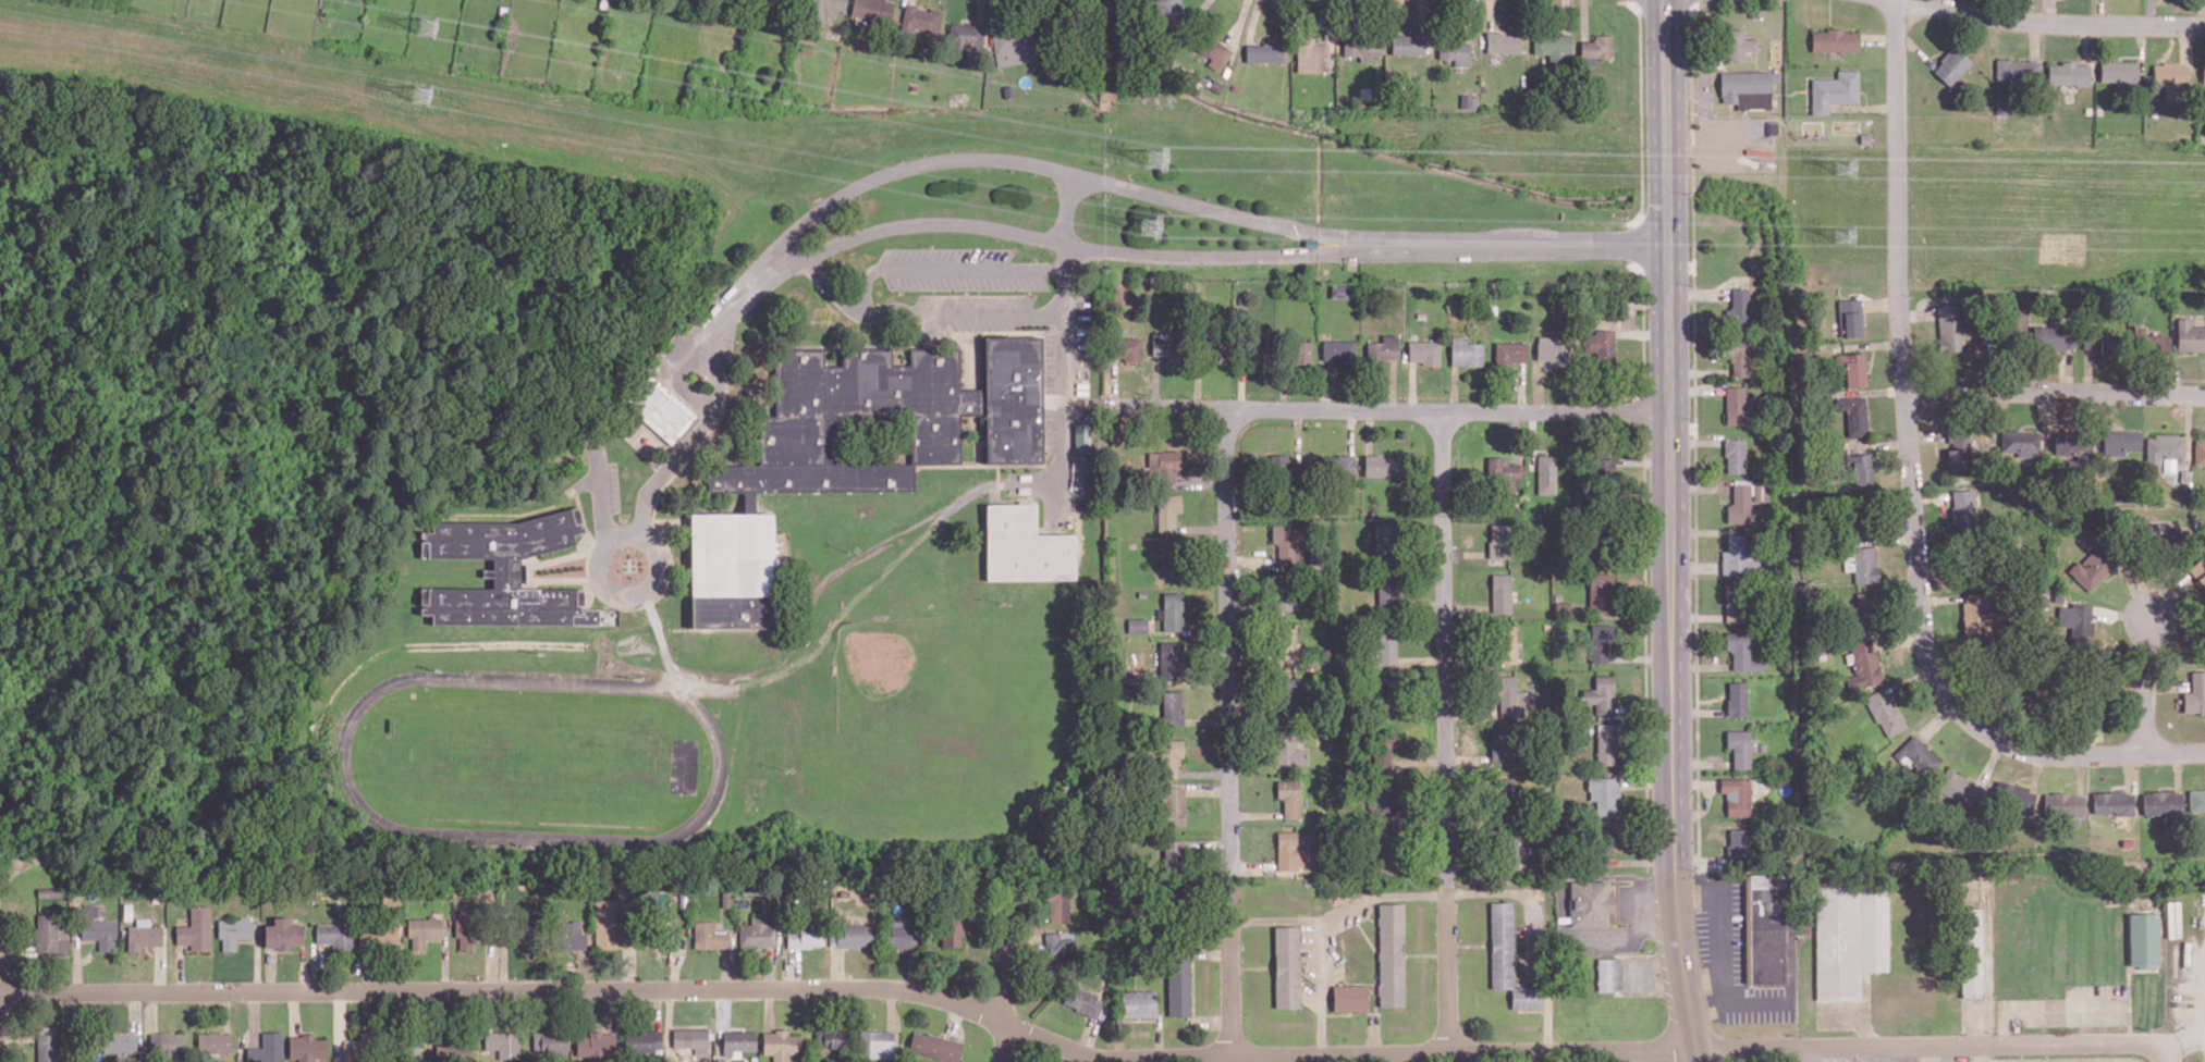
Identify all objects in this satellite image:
building: (771, 0)
building: (795, 1)
road: (1945, 3)
road: (1200, 7)
building: (872, 9)
street lamp: (2037, 9)
building: (821, 10)
road: (2048, 10)
building: (1045, 12)
building: (1171, 12)
road: (2100, 12)
road: (2151, 12)
road: (2202, 12)
road: (1829, 13)
street lamp: (2189, 13)
road: (1422, 14)
road: (1490, 14)
road: (1566, 16)
building: (920, 18)
road: (1584, 18)
road: (1252, 20)
road: (1238, 22)
road: (2058, 22)
power tower: (431, 27)
building: (965, 38)
road: (1878, 38)
building: (1835, 39)
road: (2034, 39)
building: (1503, 41)
building: (1409, 42)
building: (1738, 42)
road: (2085, 42)
road: (2186, 44)
building: (1014, 45)
building: (1553, 46)
building: (806, 47)
building: (1361, 47)
building: (1596, 48)
building: (1212, 49)
road: (1915, 49)
building: (1265, 50)
building: (1454, 50)
road: (2141, 51)
road: (1934, 53)
building: (1311, 54)
road: (2128, 54)
building: (1952, 64)
street lamp: (1643, 65)
building: (2018, 69)
building: (2069, 72)
building: (2119, 72)
building: (2204, 72)
building: (2171, 78)
building: (1748, 87)
building: (1834, 89)
building: (1365, 92)
road: (1865, 97)
power tower: (420, 99)
building: (2004, 106)
road: (1863, 107)
road: (1730, 110)
building: (2153, 112)
road: (1722, 116)
road: (1666, 122)
building: (1772, 128)
river: (1387, 151)
power tower: (1156, 160)
road: (1045, 166)
power tower: (1848, 171)
street lamp: (1690, 193)
river: (1666, 199)
river: (1734, 200)
power tower: (1151, 231)
street lamp: (995, 239)
power tower: (1842, 240)
road: (1057, 242)
street lamp: (1022, 245)
road: (1532, 245)
street lamp: (930, 246)
street lamp: (850, 252)
street lamp: (1050, 252)
parking lot: (950, 255)
road: (1693, 257)
street lamp: (1033, 259)
road: (945, 268)
road: (821, 276)
parking lot: (967, 281)
building: (1339, 289)
building: (1115, 294)
road: (1699, 294)
street lamp: (1909, 296)
parking lot: (976, 300)
road: (1881, 302)
building: (1737, 308)
street lamp: (1646, 310)
road: (960, 314)
road: (1915, 314)
building: (1850, 317)
parking lot: (982, 324)
building: (1947, 328)
building: (2016, 330)
building: (2189, 335)
building: (2050, 336)
road: (1064, 341)
building: (2098, 342)
building: (2146, 342)
building: (1212, 345)
road: (1872, 345)
building: (1165, 346)
building: (1254, 346)
building: (1601, 346)
building: (1124, 348)
building: (1382, 349)
building: (1294, 350)
building: (1551, 350)
building: (1339, 351)
building: (1424, 351)
building: (1465, 351)
building: (1508, 351)
building: (1736, 354)
road: (1871, 358)
road: (2173, 360)
road: (1901, 363)
building: (1852, 368)
road: (1699, 371)
road: (2066, 371)
road: (2086, 371)
road: (2179, 379)
road: (1392, 384)
road: (1538, 385)
road: (1411, 386)
road: (1521, 386)
road: (1454, 388)
road: (1695, 388)
road: (1870, 391)
road: (2054, 392)
building: (1735, 404)
building: (660, 407)
road: (1368, 410)
building: (1854, 415)
street lamp: (1691, 418)
road: (2097, 420)
road: (703, 424)
road: (2186, 427)
building: (1081, 435)
road: (1925, 435)
building: (2117, 441)
road: (1695, 442)
building: (2025, 442)
road: (1875, 443)
building: (2071, 445)
road: (1937, 447)
building: (1956, 447)
building: (2160, 448)
building: (2197, 452)
building: (1734, 453)
building: (1338, 464)
building: (1164, 465)
building: (1381, 465)
building: (1859, 467)
building: (1287, 468)
building: (1505, 472)
building: (1081, 473)
building: (1546, 473)
building: (1603, 473)
building: (810, 478)
road: (598, 481)
road: (1700, 485)
parking lot: (612, 486)
building: (1760, 491)
building: (1739, 503)
building: (1963, 509)
building: (1167, 510)
building: (1854, 515)
building: (1606, 534)
road: (1888, 538)
building: (2153, 540)
building: (1385, 541)
building: (1500, 541)
building: (1289, 543)
building: (1025, 545)
building: (1744, 558)
building: (1172, 559)
building: (1970, 560)
building: (1862, 563)
building: (2091, 566)
building: (2198, 570)
road: (1673, 571)
building: (504, 572)
building: (1600, 590)
road: (611, 591)
building: (1500, 592)
building: (1281, 593)
building: (1388, 593)
street lamp: (597, 597)
building: (1737, 602)
building: (1863, 607)
building: (1172, 610)
building: (1973, 612)
building: (2079, 622)
building: (1136, 625)
building: (1600, 641)
building: (1505, 642)
building: (1386, 644)
road: (1228, 645)
road: (1444, 646)
building: (1286, 647)
building: (1742, 651)
building: (1168, 658)
building: (1989, 663)
building: (1863, 664)
building: (2033, 686)
road: (2145, 690)
building: (1389, 691)
building: (1601, 693)
building: (2194, 693)
building: (1290, 695)
building: (1510, 695)
building: (1737, 697)
building: (2017, 699)
building: (2094, 702)
street lamp: (1940, 705)
building: (1172, 707)
building: (1884, 712)
road: (1938, 720)
road: (2088, 738)
building: (1384, 744)
building: (1500, 744)
building: (1288, 746)
building: (1606, 746)
building: (1740, 746)
road: (2081, 754)
building: (1169, 756)
building: (1916, 756)
road: (1990, 762)
street lamp: (2090, 766)
road: (2036, 770)
road: (2129, 770)
road: (2177, 770)
road: (2080, 774)
road: (2023, 776)
road: (2068, 782)
road: (2119, 785)
road: (2168, 787)
building: (1960, 788)
building: (1603, 793)
building: (1383, 794)
building: (1737, 794)
building: (2013, 794)
building: (1290, 798)
building: (1503, 798)
building: (2195, 799)
building: (2111, 802)
building: (2159, 802)
building: (1171, 803)
building: (2062, 804)
building: (2203, 828)
road: (441, 835)
building: (1738, 844)
building: (1601, 845)
building: (1507, 847)
building: (1387, 850)
building: (1293, 852)
building: (1174, 855)
building: (49, 892)
road: (1413, 894)
road: (0, 896)
building: (1589, 903)
building: (1058, 905)
building: (608, 924)
building: (97, 927)
building: (464, 928)
building: (1764, 928)
building: (195, 929)
building: (520, 929)
building: (951, 929)
building: (422, 930)
building: (233, 931)
building: (281, 934)
building: (756, 934)
building: (143, 935)
building: (378, 935)
building: (850, 935)
building: (49, 936)
building: (335, 936)
building: (568, 936)
building: (708, 936)
building: (898, 936)
building: (805, 937)
building: (2143, 937)
building: (1848, 939)
building: (661, 940)
building: (1057, 947)
building: (1970, 952)
building: (1389, 954)
building: (1507, 959)
building: (1286, 966)
road: (1229, 967)
road: (1446, 967)
building: (1609, 974)
road: (1004, 977)
road: (1686, 980)
building: (1177, 986)
road: (1319, 988)
building: (1349, 998)
building: (1081, 1001)
building: (1138, 1003)
building: (830, 1038)
building: (690, 1039)
building: (642, 1041)
building: (119, 1042)
building: (213, 1042)
building: (737, 1042)
building: (46, 1044)
building: (166, 1044)
building: (502, 1044)
building: (549, 1044)
building: (875, 1044)
building: (596, 1045)
building: (780, 1045)
building: (306, 1047)
building: (934, 1047)
building: (267, 1048)
building: (355, 1049)
road: (2167, 1052)
road: (1813, 1054)
road: (1911, 1054)
road: (1092, 1057)

